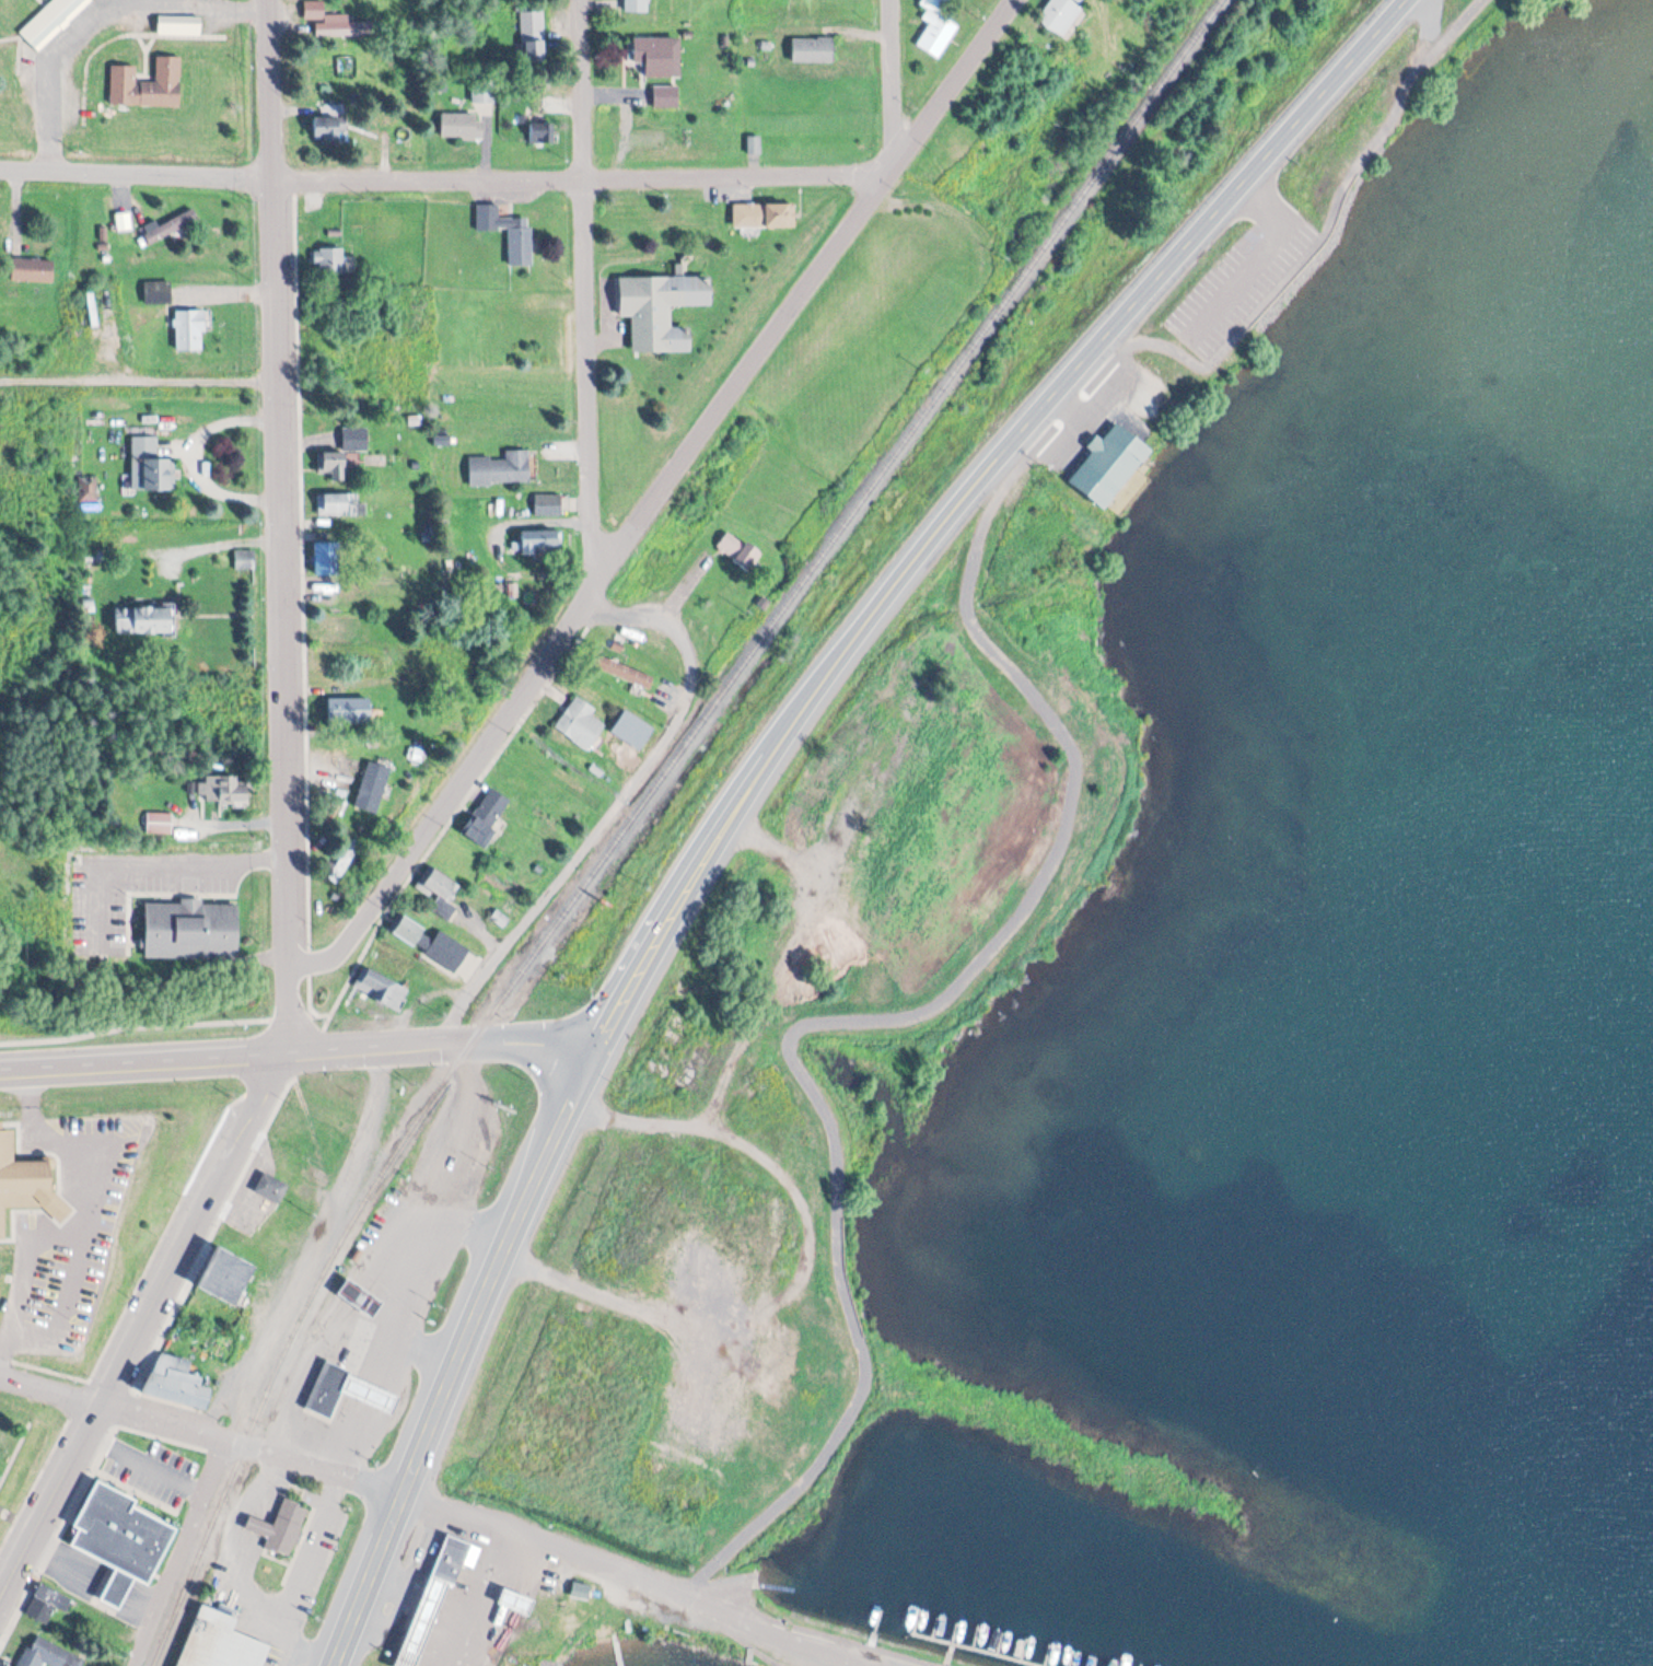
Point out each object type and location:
building: (638, 5)
building: (314, 10)
road: (100, 14)
building: (1062, 16)
building: (57, 23)
building: (179, 25)
building: (337, 28)
building: (938, 28)
building: (814, 50)
building: (655, 57)
road: (898, 80)
building: (148, 85)
road: (273, 89)
building: (666, 97)
building: (462, 127)
building: (330, 129)
building: (542, 133)
road: (450, 175)
building: (764, 214)
building: (171, 226)
building: (509, 232)
building: (329, 261)
building: (34, 269)
road: (593, 286)
building: (158, 292)
building: (662, 310)
building: (190, 329)
building: (356, 438)
building: (150, 463)
building: (1111, 463)
building: (334, 466)
building: (501, 467)
road: (655, 493)
building: (340, 503)
building: (548, 503)
building: (540, 539)
building: (740, 550)
building: (328, 557)
building: (345, 593)
road: (282, 616)
building: (150, 620)
building: (344, 628)
building: (624, 672)
building: (350, 711)
building: (581, 724)
road: (765, 765)
building: (373, 788)
building: (225, 790)
road: (617, 803)
railway: (642, 806)
building: (487, 817)
building: (160, 823)
building: (338, 867)
building: (442, 893)
building: (190, 928)
building: (431, 943)
building: (377, 983)
road: (298, 1055)
building: (27, 1179)
building: (260, 1185)
building: (228, 1277)
road: (411, 1279)
road: (807, 1282)
building: (363, 1295)
road: (143, 1327)
building: (176, 1379)
building: (317, 1387)
building: (360, 1390)
road: (440, 1504)
building: (287, 1525)
building: (123, 1536)
road: (183, 1552)
building: (451, 1556)
building: (581, 1589)
building: (48, 1604)
building: (420, 1620)
building: (222, 1642)
building: (32, 1657)

